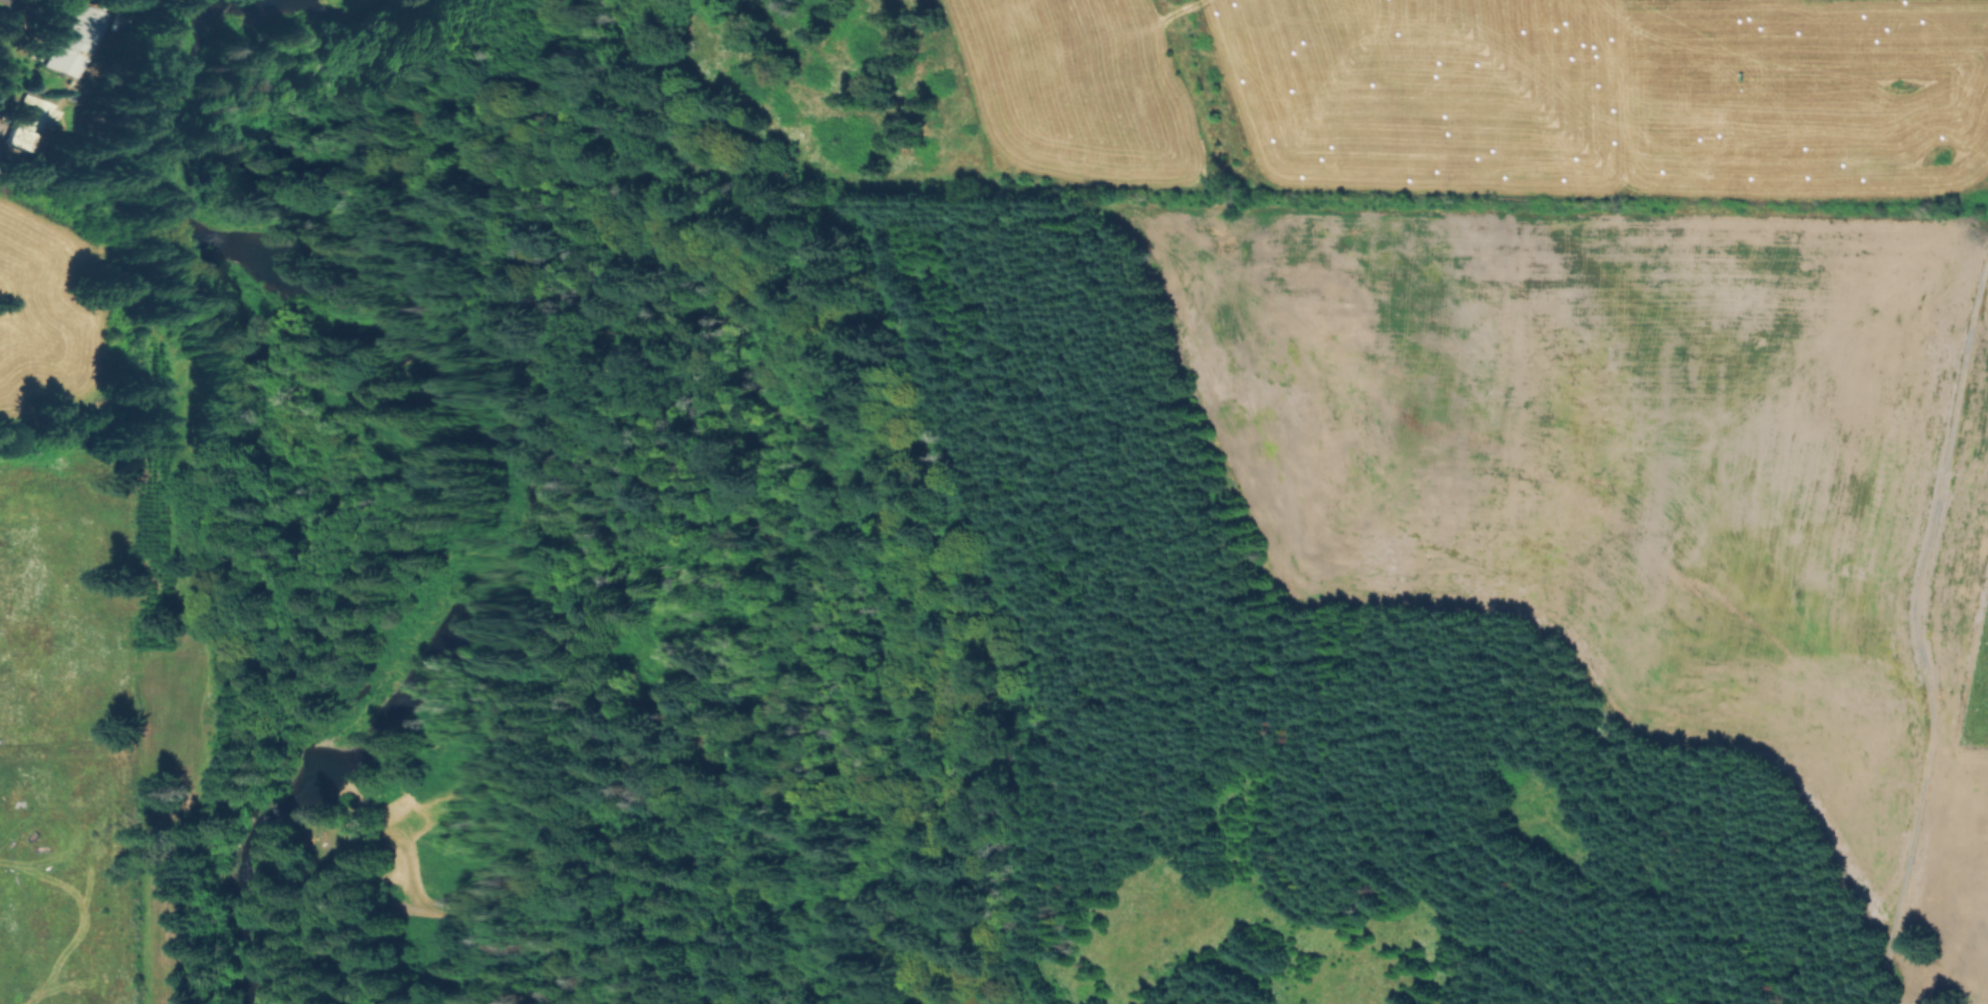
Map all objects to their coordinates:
building: (68, 40)
building: (29, 124)
road: (1915, 625)
building: (378, 703)
building: (357, 747)

